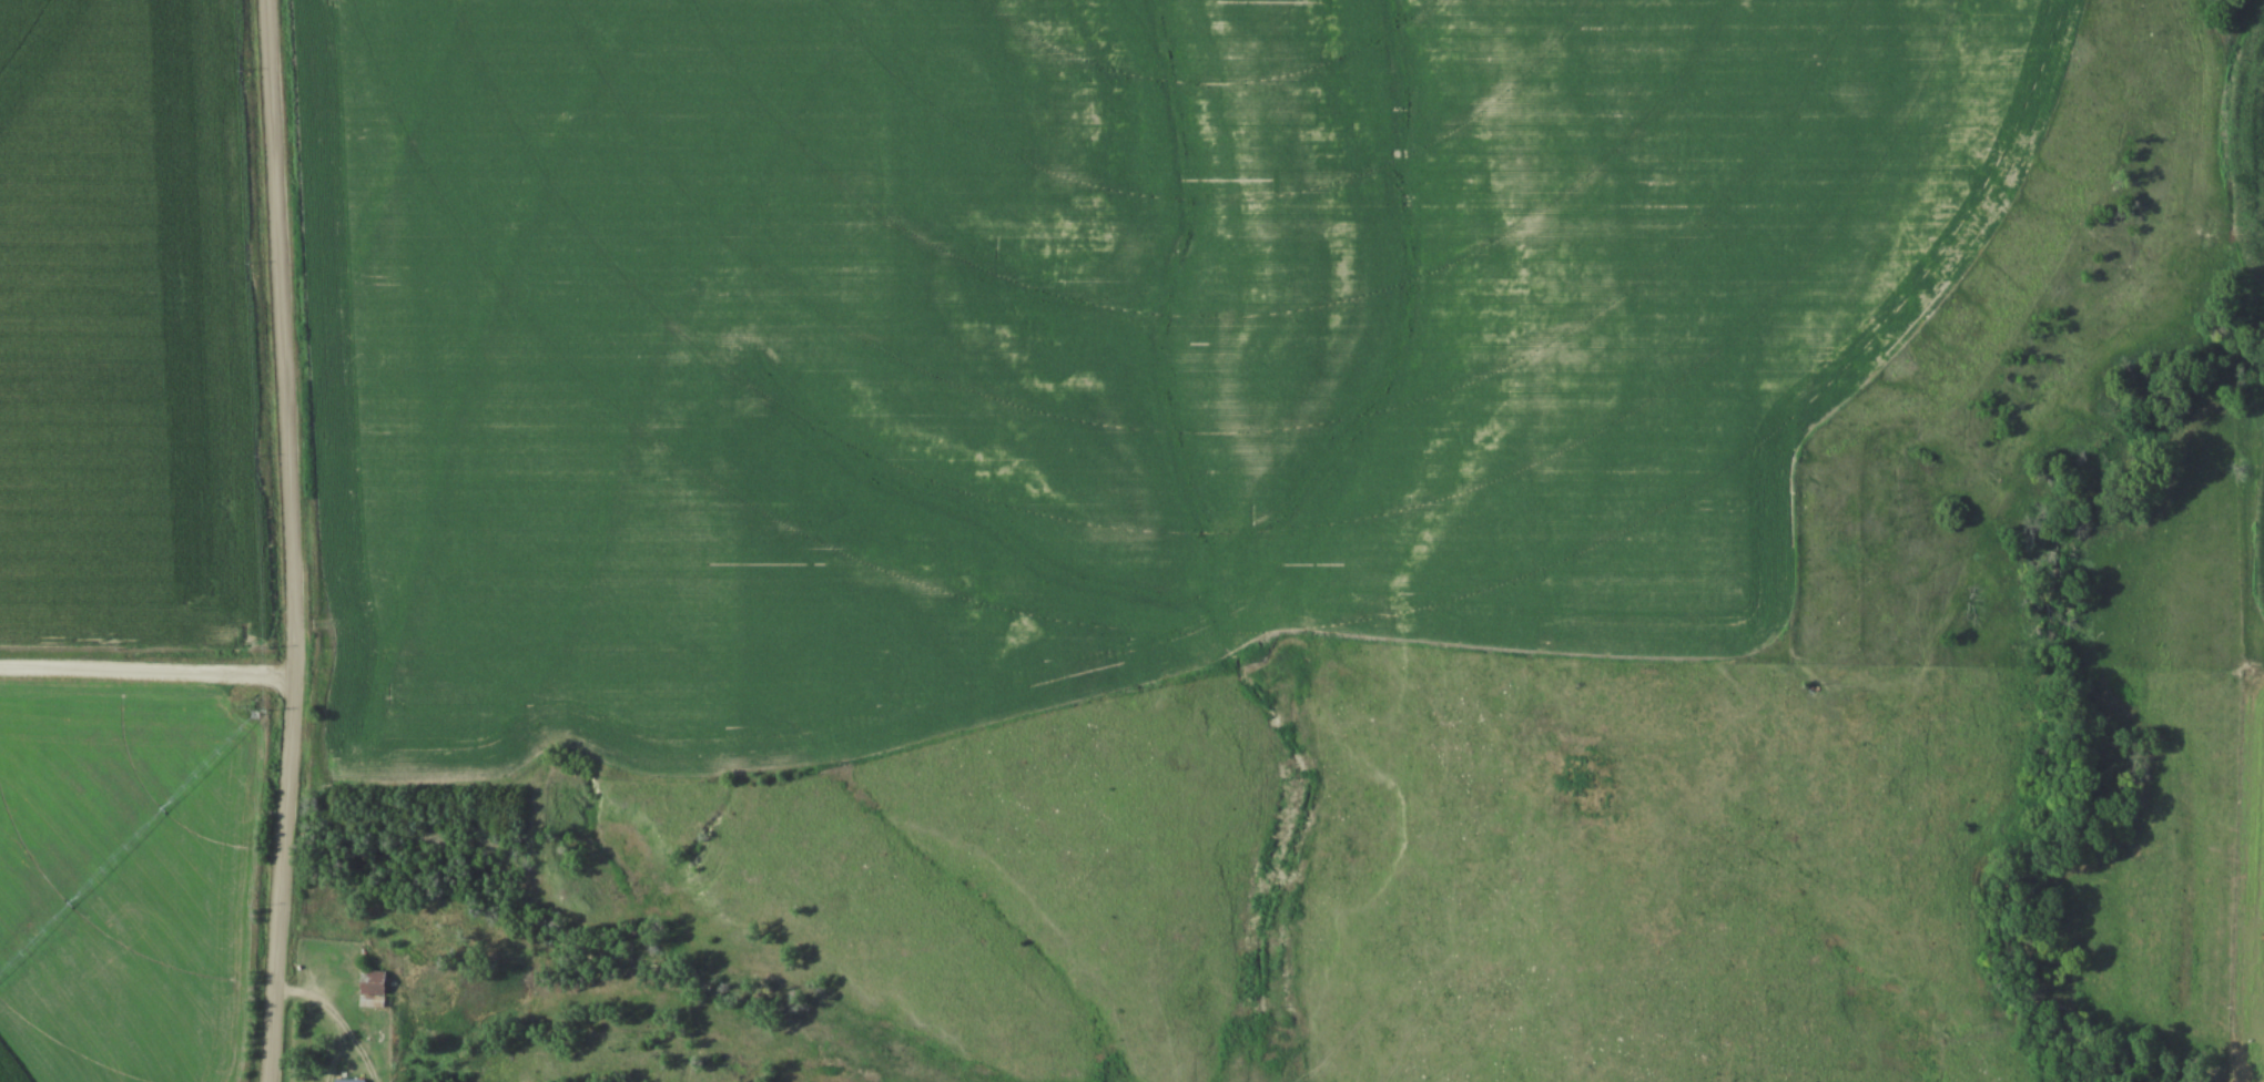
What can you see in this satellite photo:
road: (277, 337)
road: (144, 672)
road: (275, 878)
building: (370, 983)
road: (335, 1020)
building: (348, 1081)

